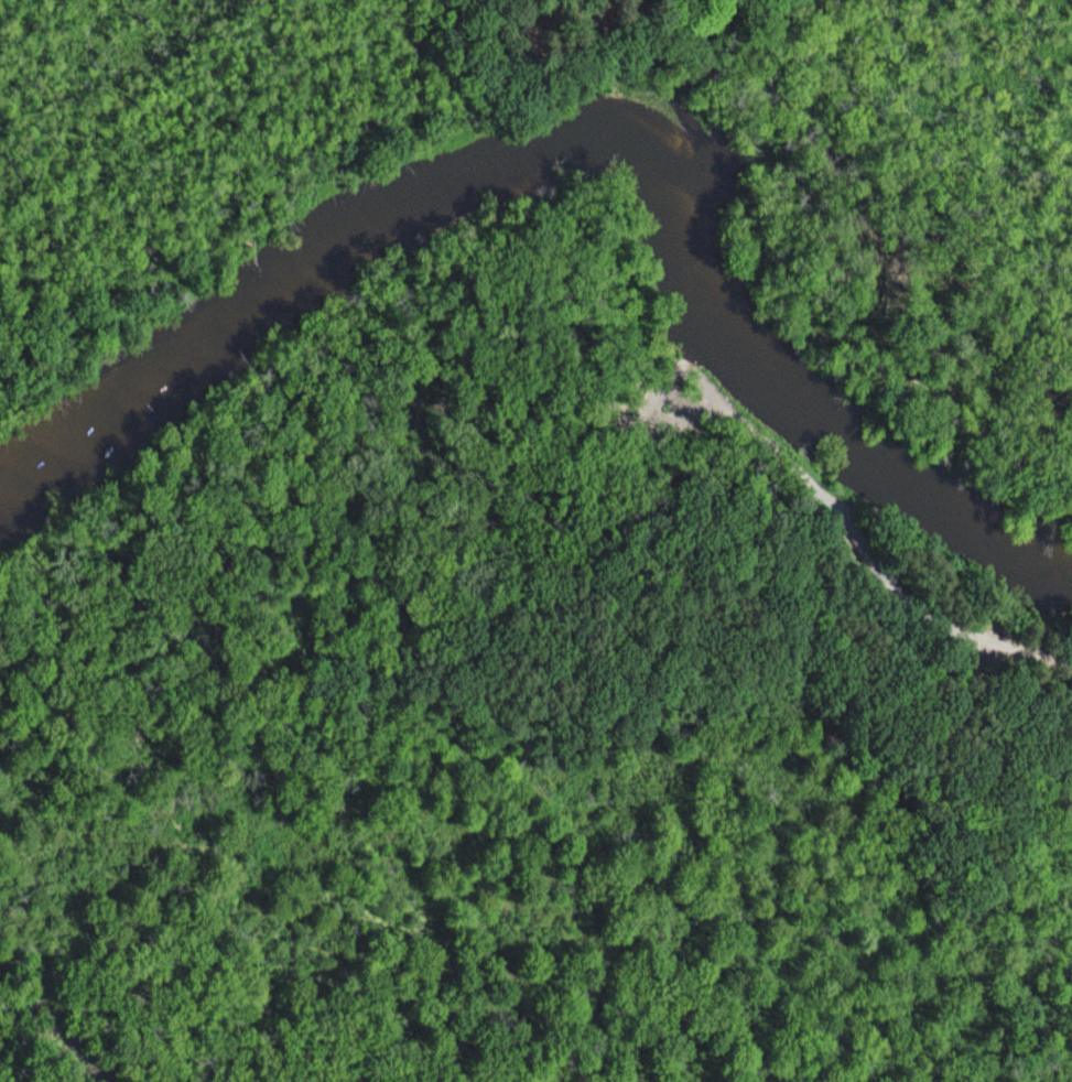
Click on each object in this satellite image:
park: (679, 1)
river: (585, 140)
road: (920, 616)

